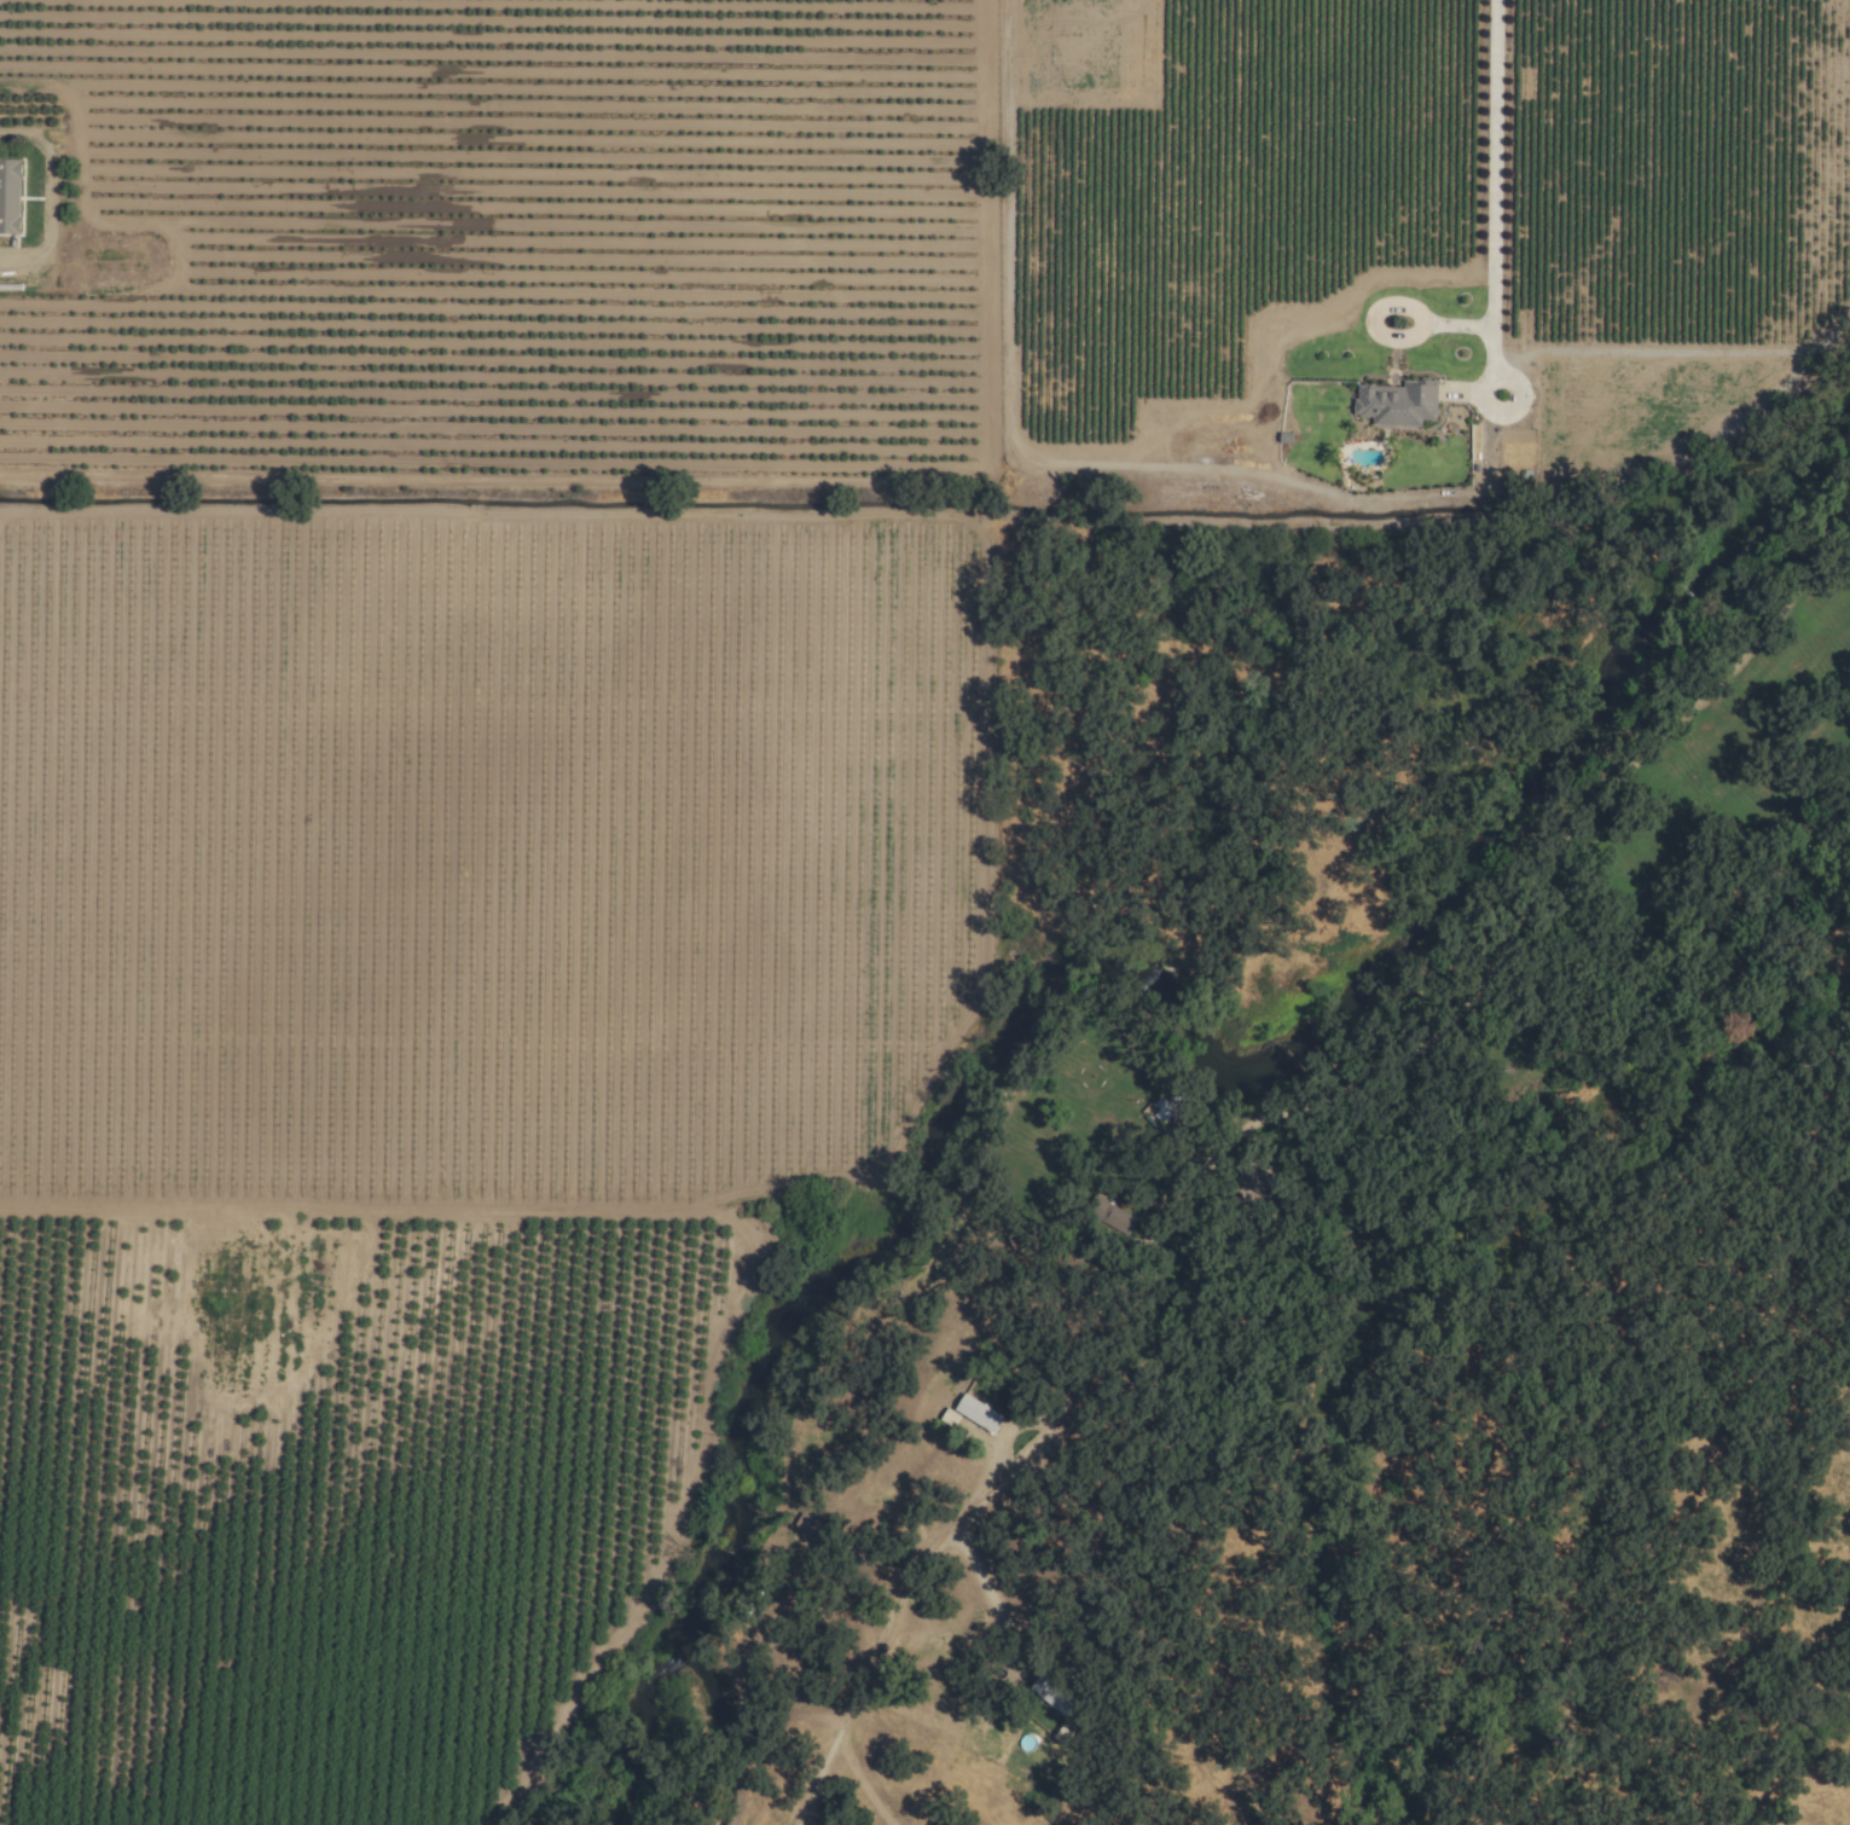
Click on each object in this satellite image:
road: (1495, 181)
building: (8, 196)
road: (50, 198)
crop: (501, 239)
building: (1397, 404)
building: (976, 1414)
crop: (336, 1494)
building: (807, 1526)
road: (900, 1600)
building: (1051, 1694)

